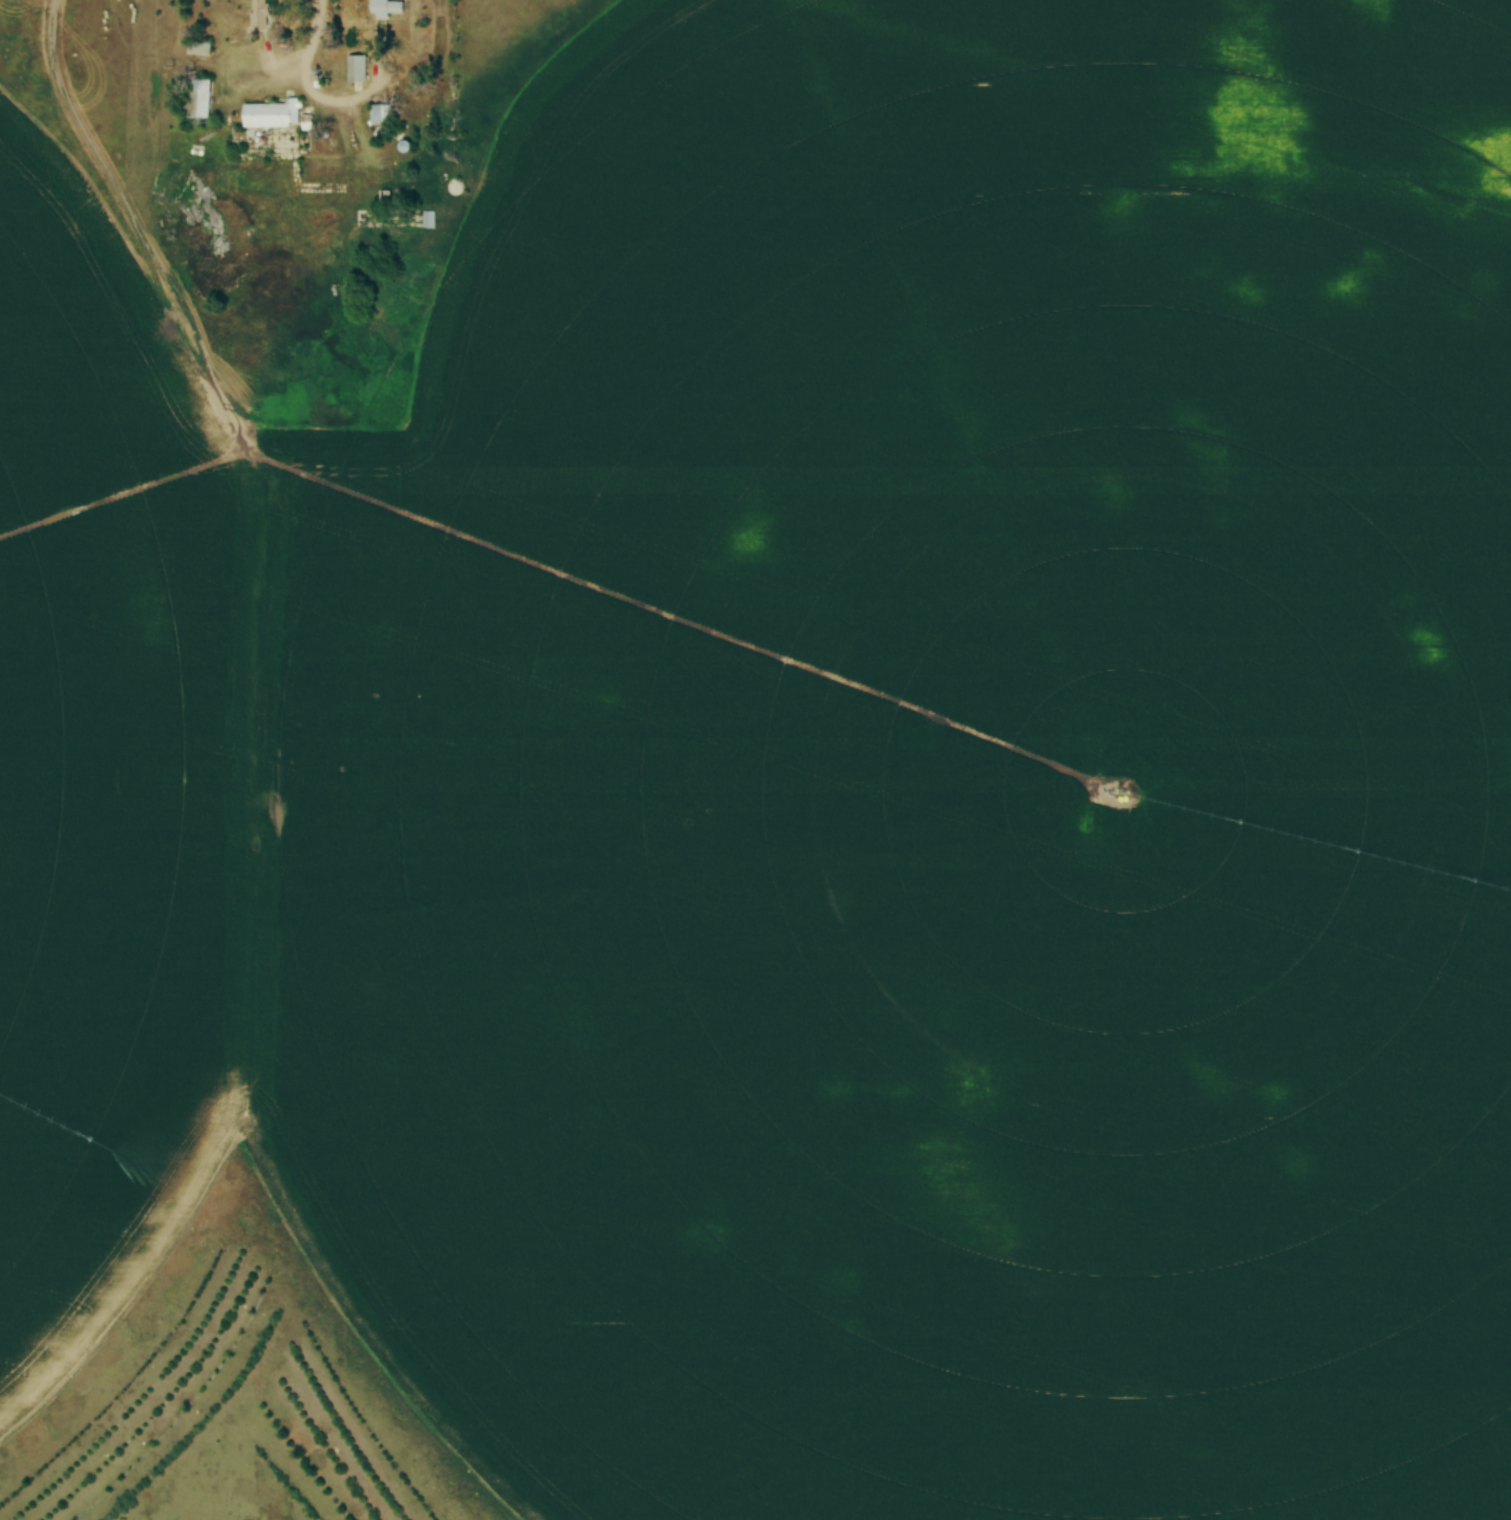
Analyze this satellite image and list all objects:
building: (385, 9)
building: (260, 13)
building: (356, 69)
road: (307, 83)
building: (198, 100)
building: (378, 114)
building: (272, 115)
building: (407, 147)
silo: (407, 147)
building: (456, 188)
building: (428, 220)

